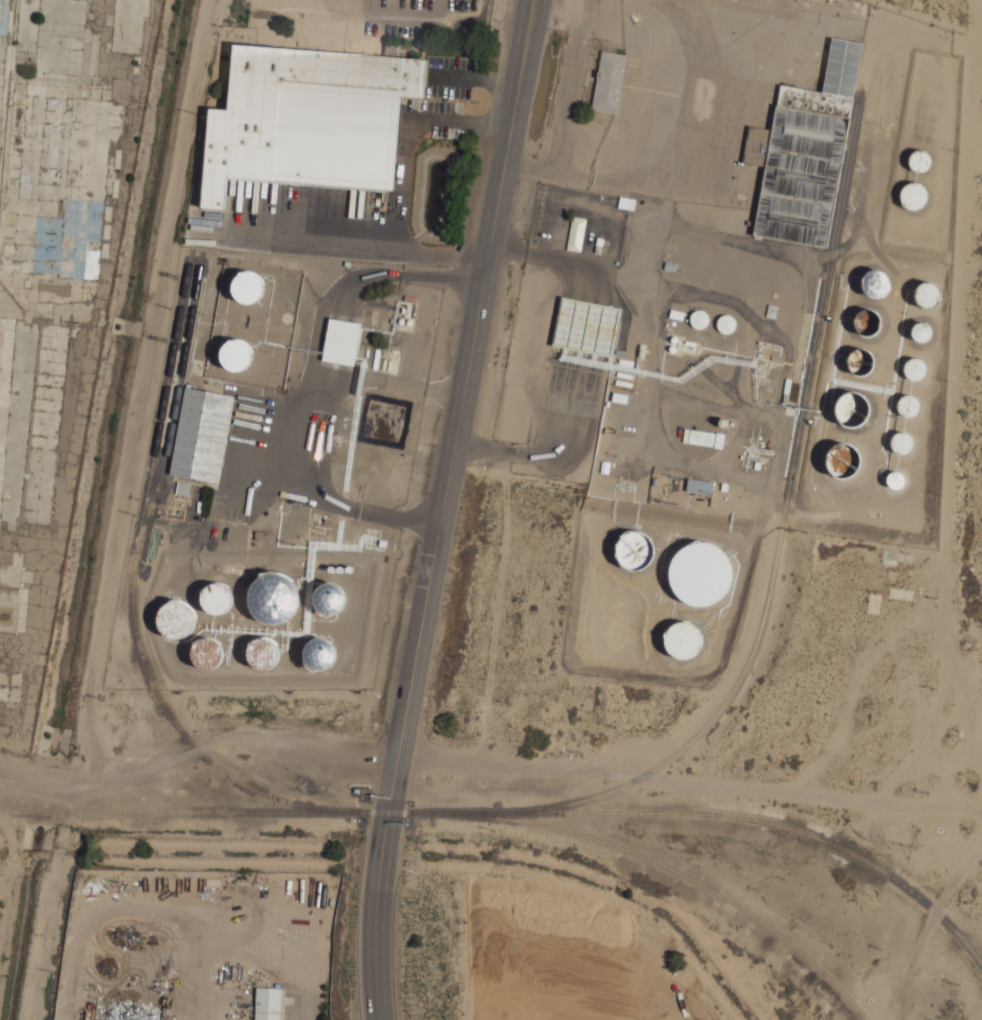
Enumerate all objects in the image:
road: (510, 77)
road: (530, 78)
building: (609, 82)
building: (308, 119)
building: (804, 153)
building: (919, 160)
storage tank: (919, 160)
building: (913, 195)
storage tank: (913, 195)
building: (576, 233)
road: (555, 260)
road: (438, 279)
building: (875, 283)
storage tank: (875, 283)
building: (247, 286)
storage tank: (247, 286)
building: (927, 295)
storage tank: (927, 295)
building: (698, 319)
storage tank: (698, 319)
building: (866, 322)
storage tank: (866, 322)
building: (726, 323)
storage tank: (726, 323)
building: (921, 332)
storage tank: (921, 332)
building: (674, 339)
storage tank: (674, 339)
building: (341, 341)
building: (672, 348)
storage tank: (672, 348)
building: (236, 355)
storage tank: (236, 355)
building: (860, 361)
storage tank: (860, 361)
building: (915, 368)
storage tank: (915, 368)
road: (387, 381)
railway: (176, 403)
building: (908, 406)
storage tank: (908, 406)
building: (851, 409)
storage tank: (851, 409)
road: (299, 427)
building: (202, 436)
building: (703, 438)
building: (901, 442)
storage tank: (901, 442)
road: (451, 459)
building: (843, 460)
storage tank: (843, 460)
building: (895, 480)
storage tank: (895, 480)
building: (699, 485)
building: (182, 488)
railway: (779, 526)
building: (634, 550)
storage tank: (634, 550)
building: (700, 573)
storage tank: (700, 573)
railway: (133, 598)
building: (216, 598)
storage tank: (216, 598)
building: (330, 599)
storage tank: (330, 599)
building: (274, 600)
storage tank: (274, 600)
building: (178, 620)
storage tank: (178, 620)
building: (683, 640)
storage tank: (683, 640)
building: (207, 654)
storage tank: (207, 654)
building: (320, 654)
storage tank: (320, 654)
building: (264, 655)
storage tank: (264, 655)
road: (689, 781)
railway: (515, 812)
railway: (671, 869)
road: (380, 891)
building: (268, 1004)

